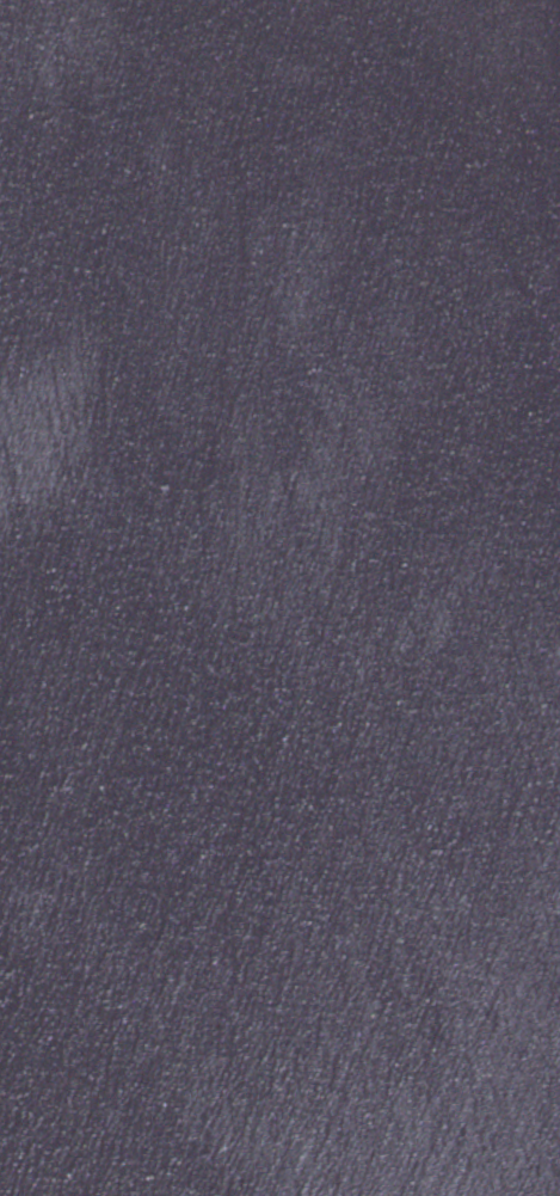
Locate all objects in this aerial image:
river: (112, 656)
river: (393, 744)

